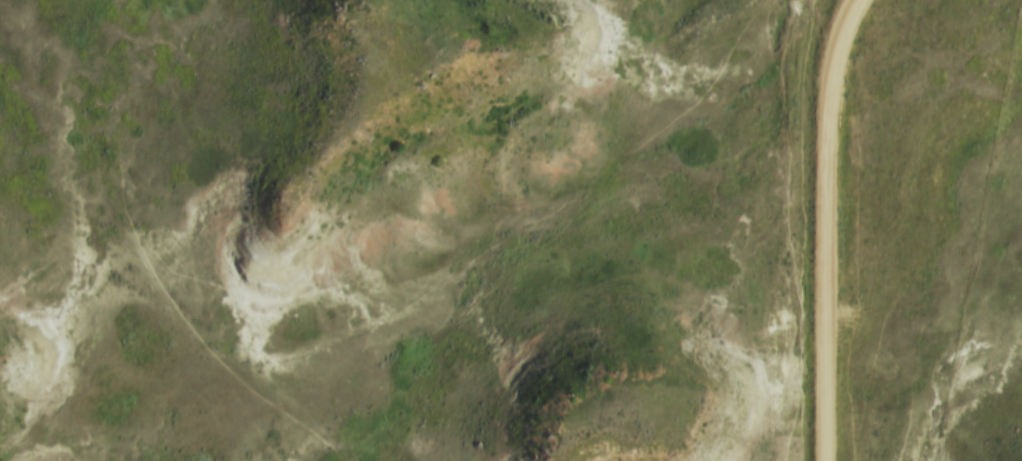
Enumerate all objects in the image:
road: (827, 228)

